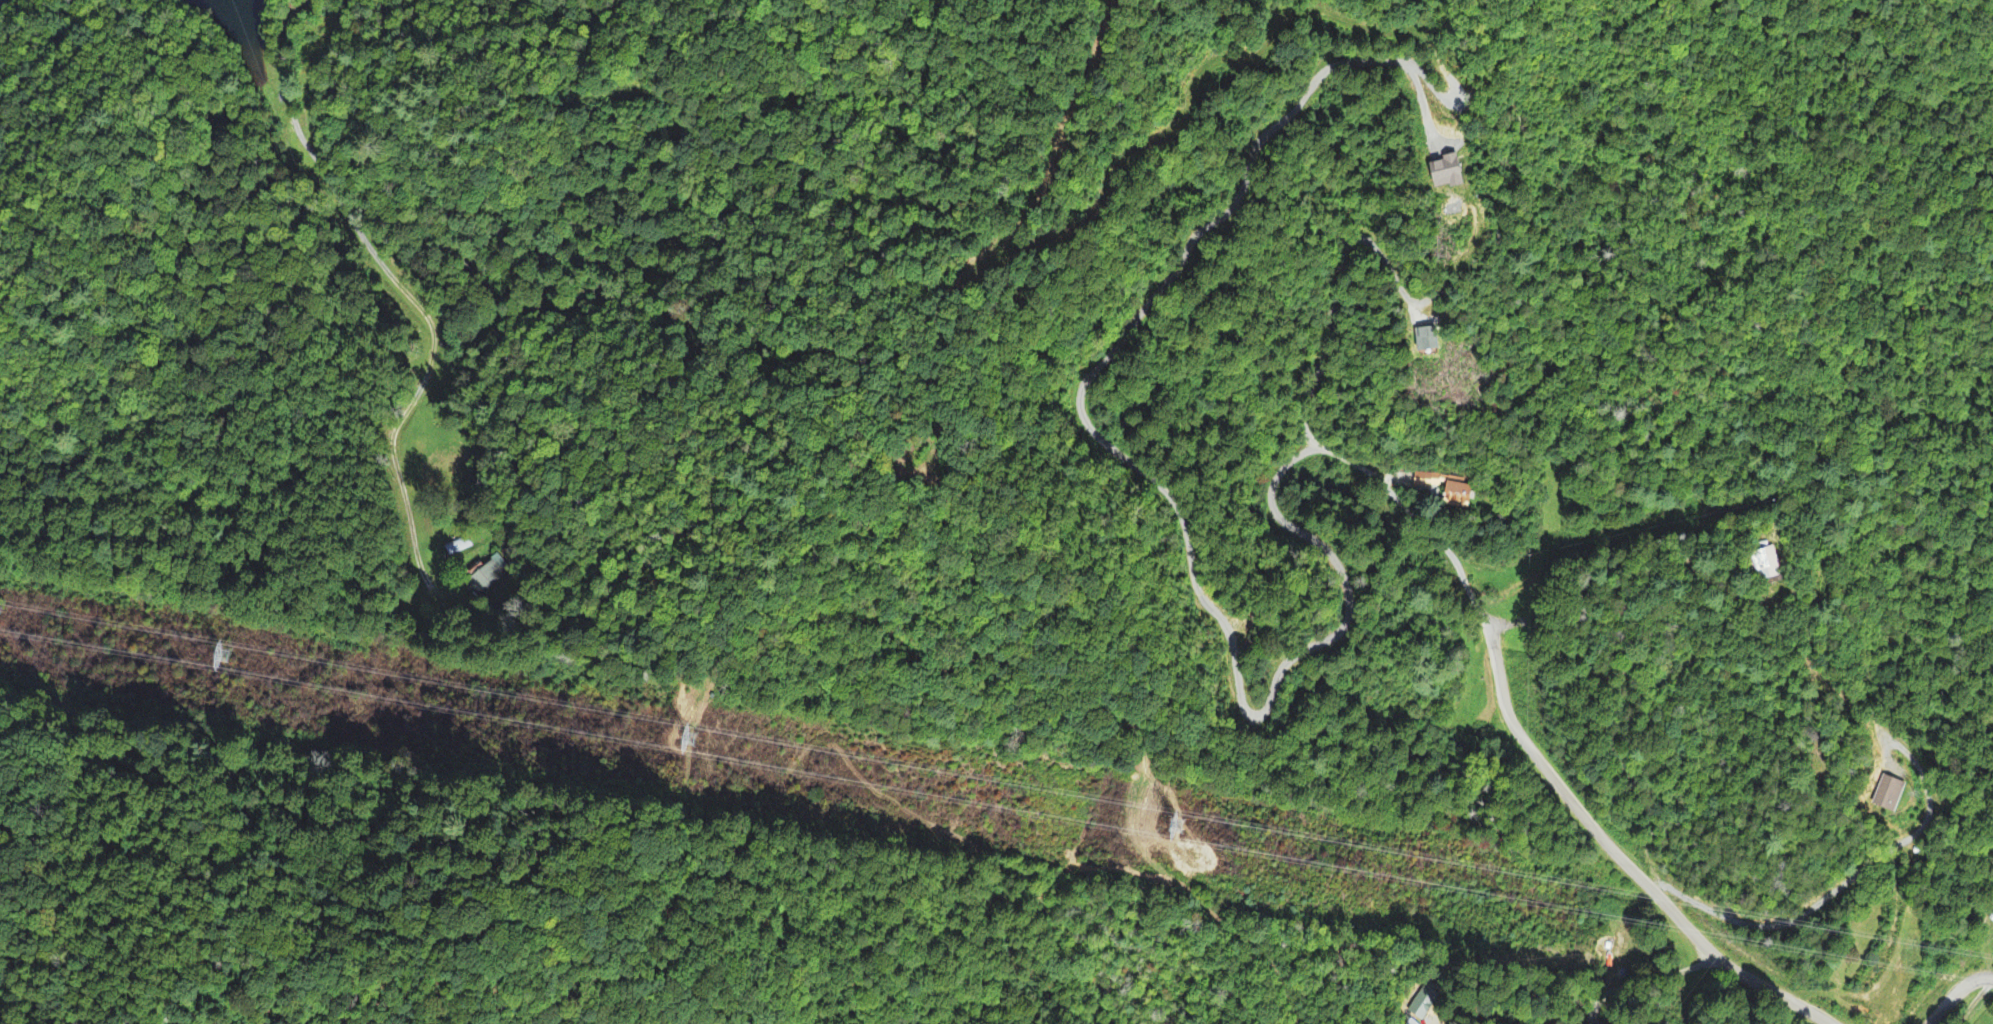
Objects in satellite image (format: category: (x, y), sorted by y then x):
building: (1449, 174)
road: (396, 282)
building: (1428, 341)
building: (1426, 484)
building: (1458, 496)
building: (1766, 567)
power tower: (244, 660)
power tower: (704, 743)
building: (1888, 796)
road: (1608, 834)
power tower: (1216, 836)
road: (1955, 993)
building: (1424, 1006)

